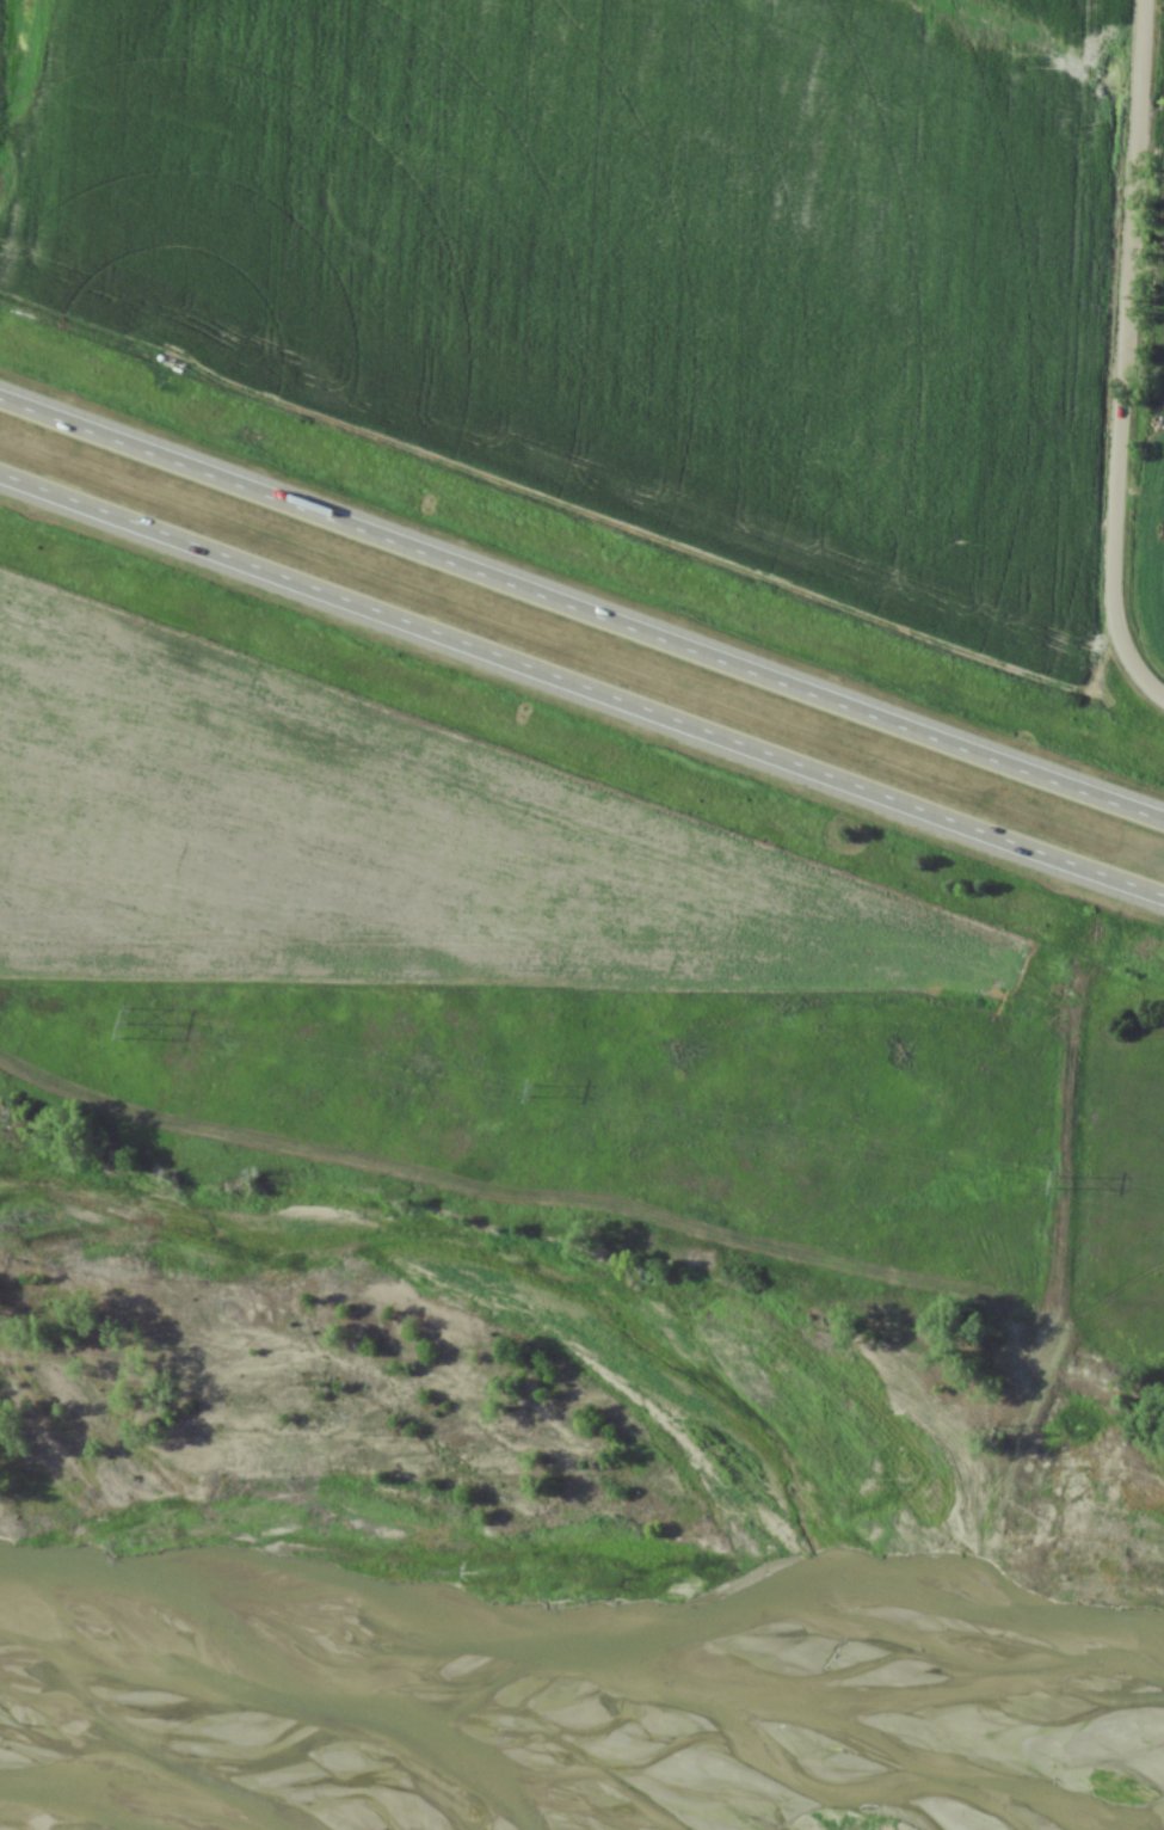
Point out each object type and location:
road: (1119, 328)
road: (581, 610)
road: (1138, 683)
road: (581, 684)
power tower: (127, 1025)
power tower: (532, 1093)
power tower: (1057, 1184)

